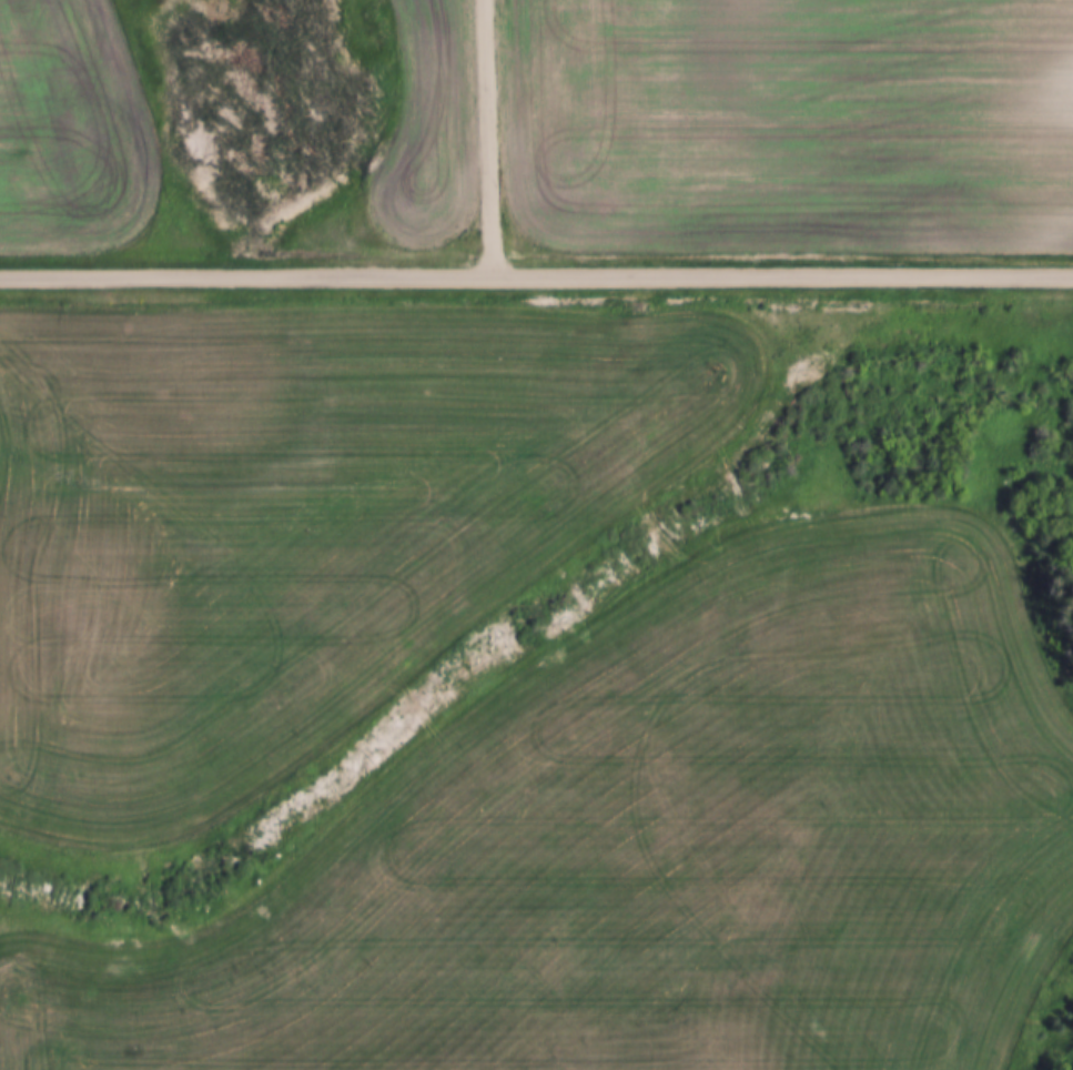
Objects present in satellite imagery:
road: (536, 276)

